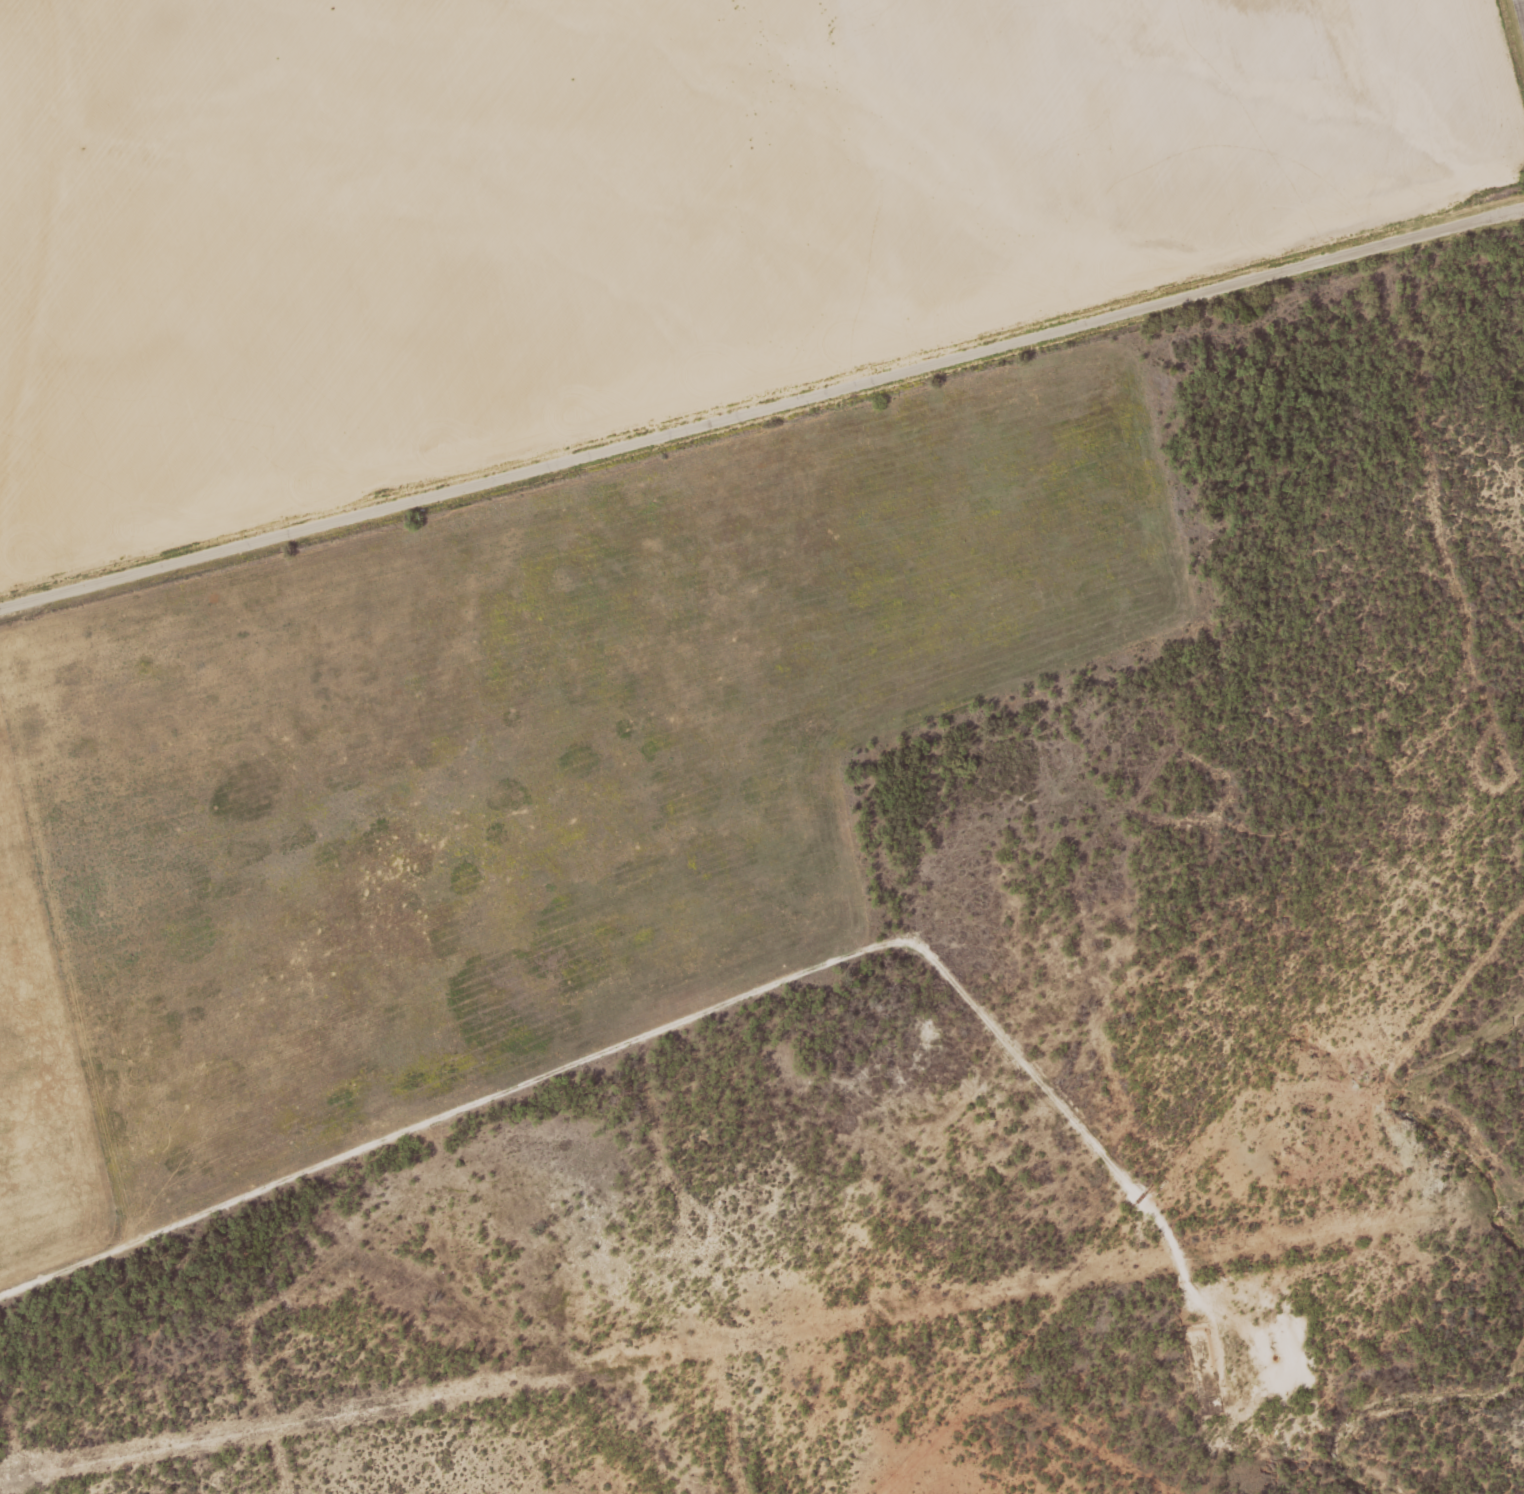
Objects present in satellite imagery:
road: (1521, 11)
road: (762, 408)

